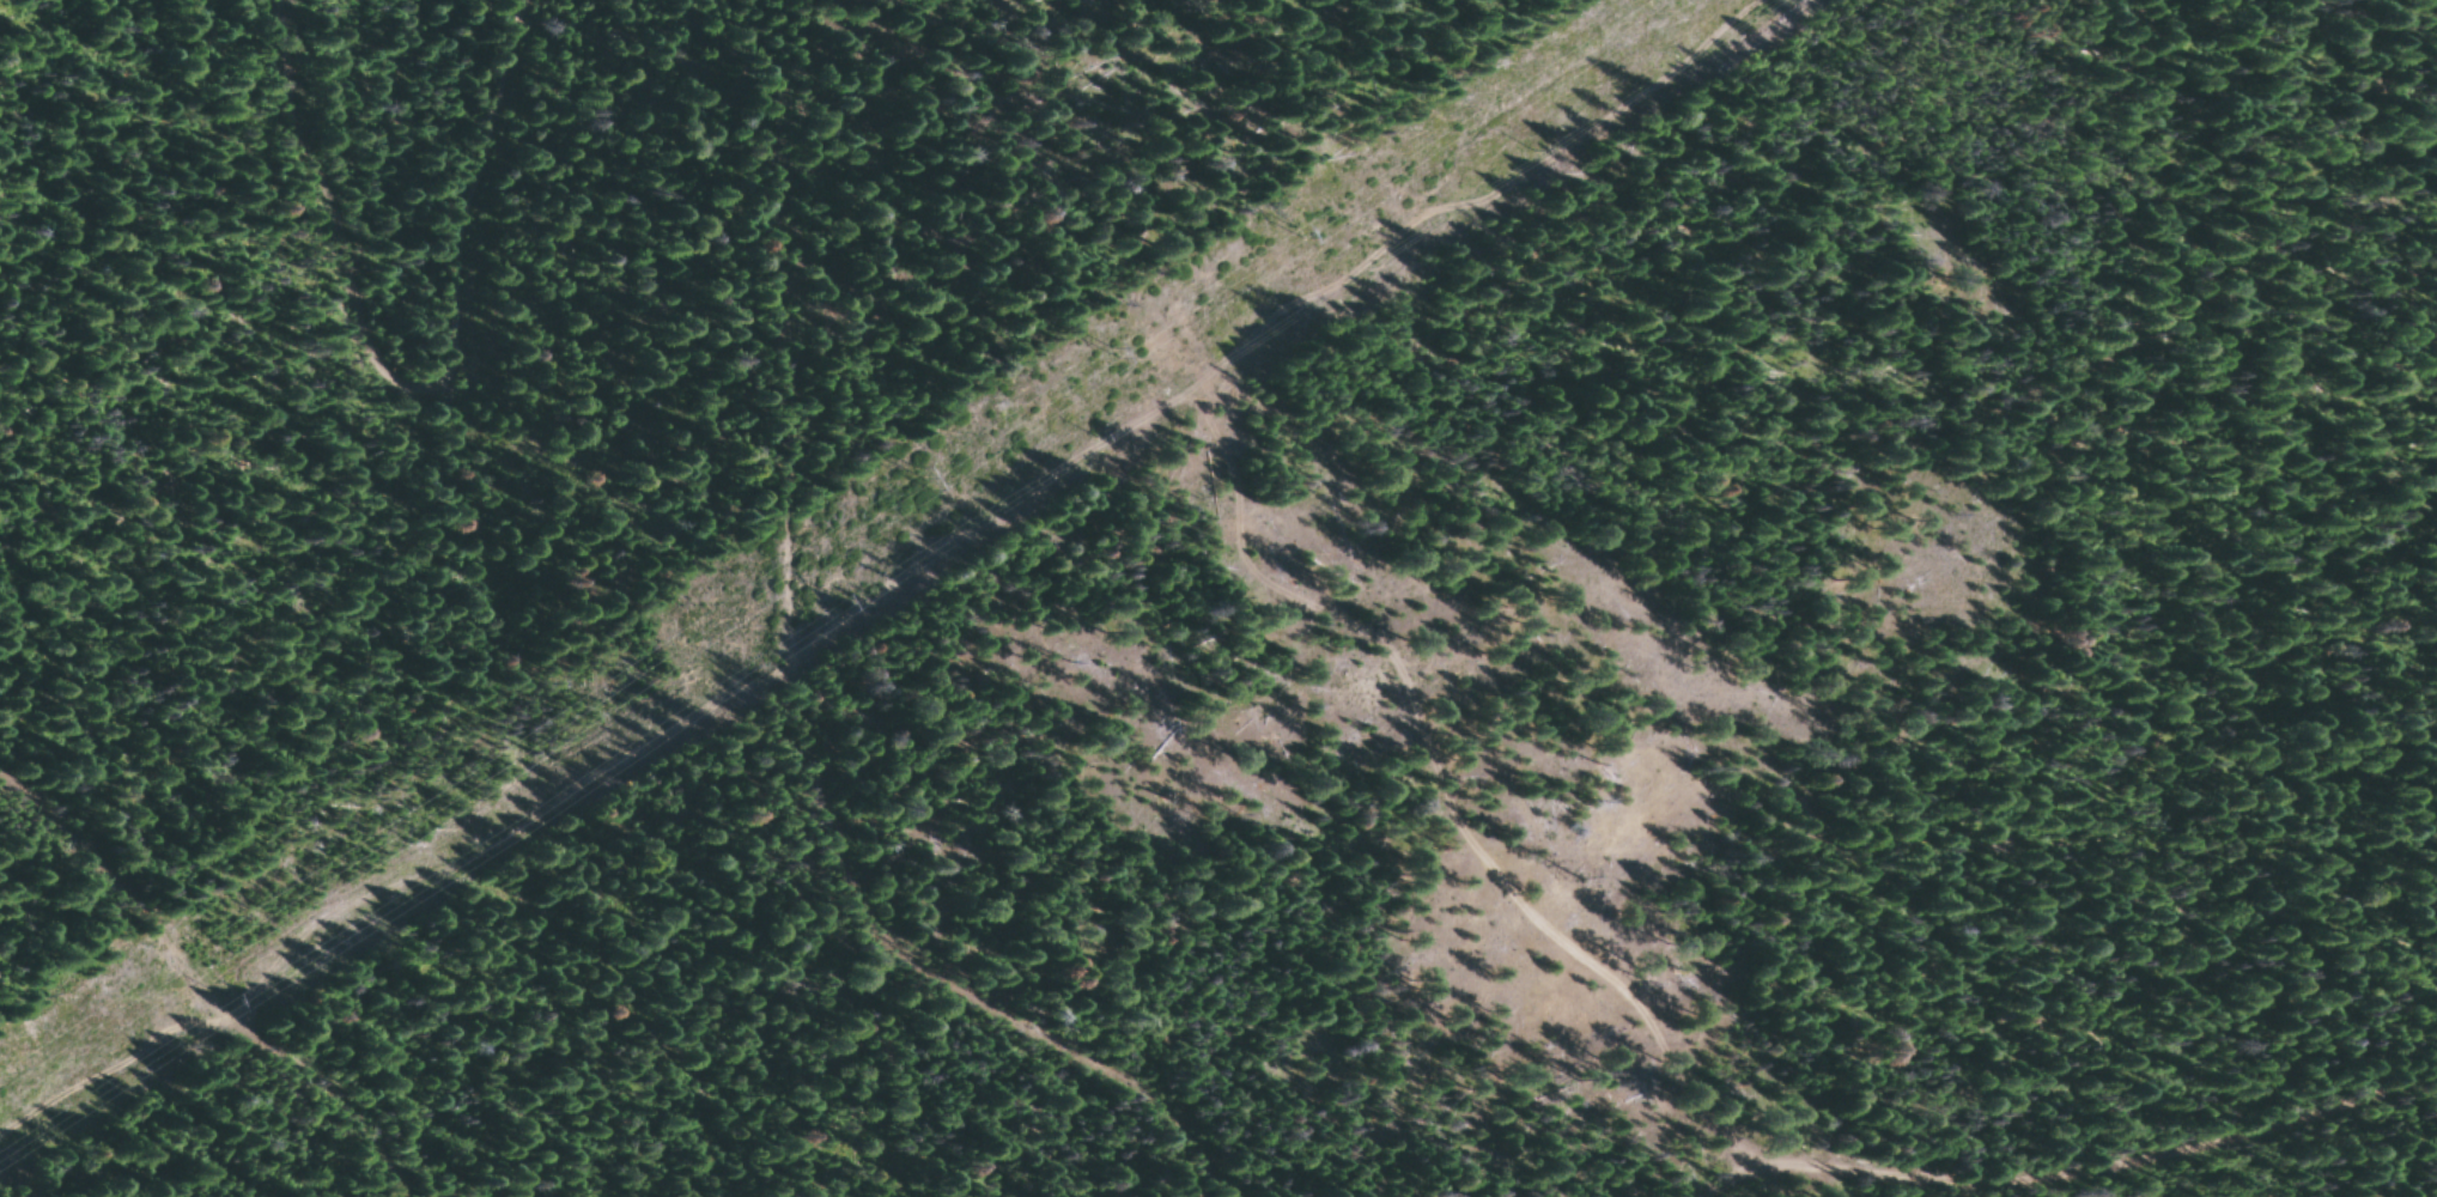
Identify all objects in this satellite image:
power tower: (1296, 230)
road: (371, 261)
power tower: (1113, 352)
power tower: (922, 472)
power tower: (843, 616)
road: (885, 644)
road: (199, 990)
power tower: (233, 1005)
road: (2079, 1126)

